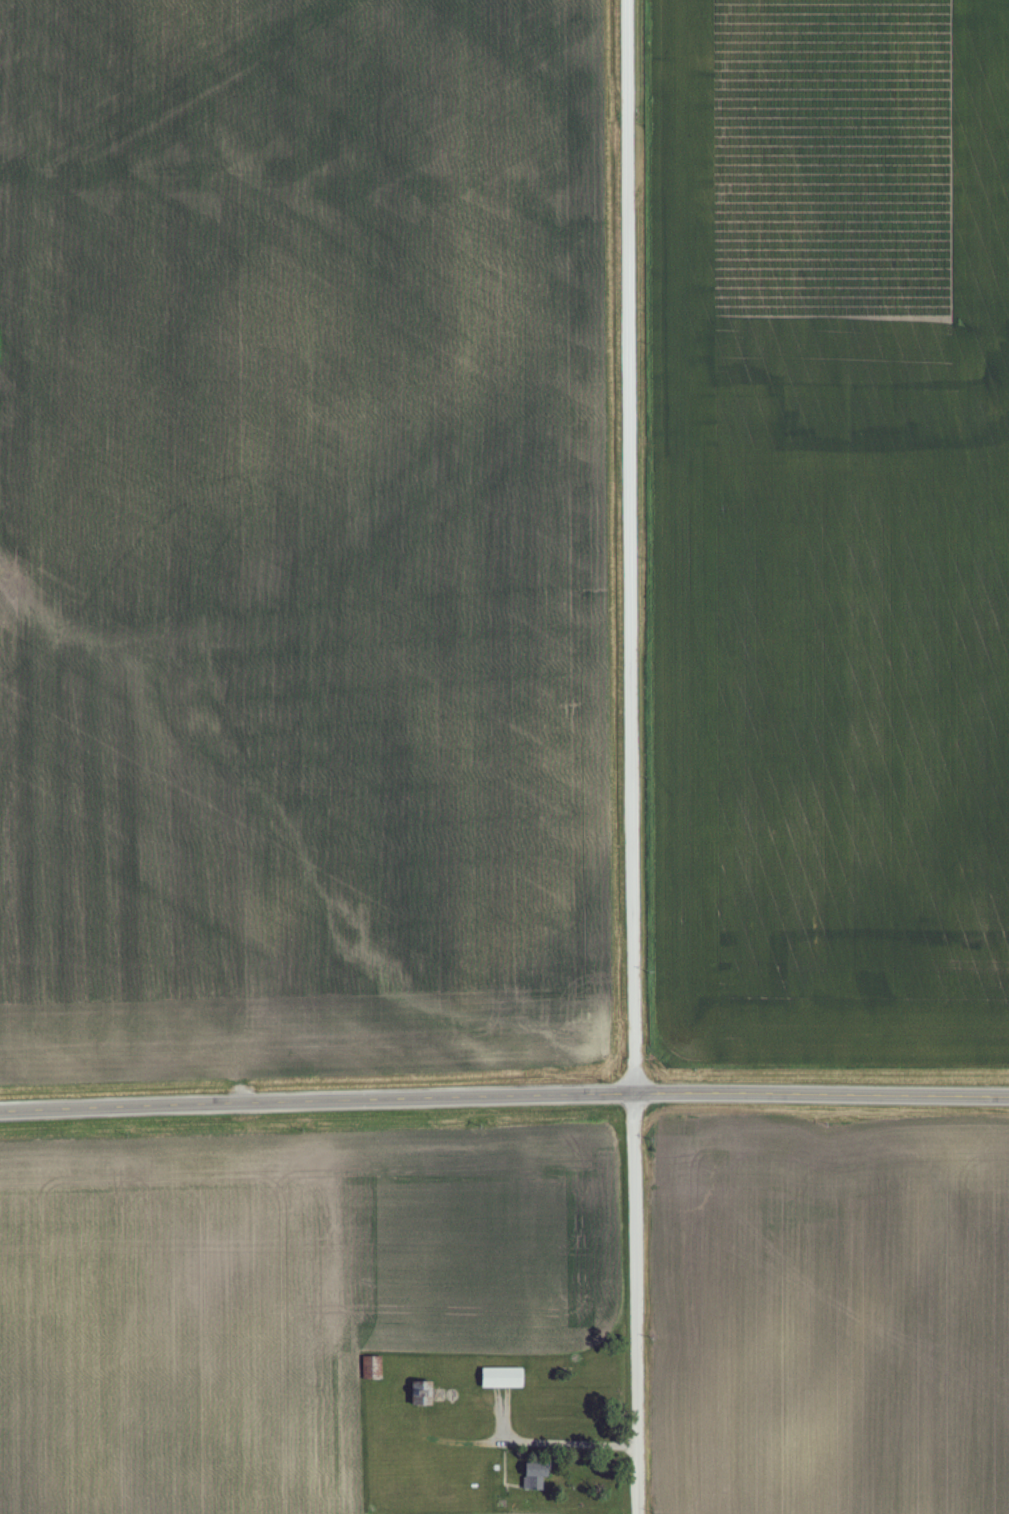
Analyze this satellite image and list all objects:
road: (630, 756)
road: (504, 1091)
building: (504, 1377)
road: (551, 1439)

